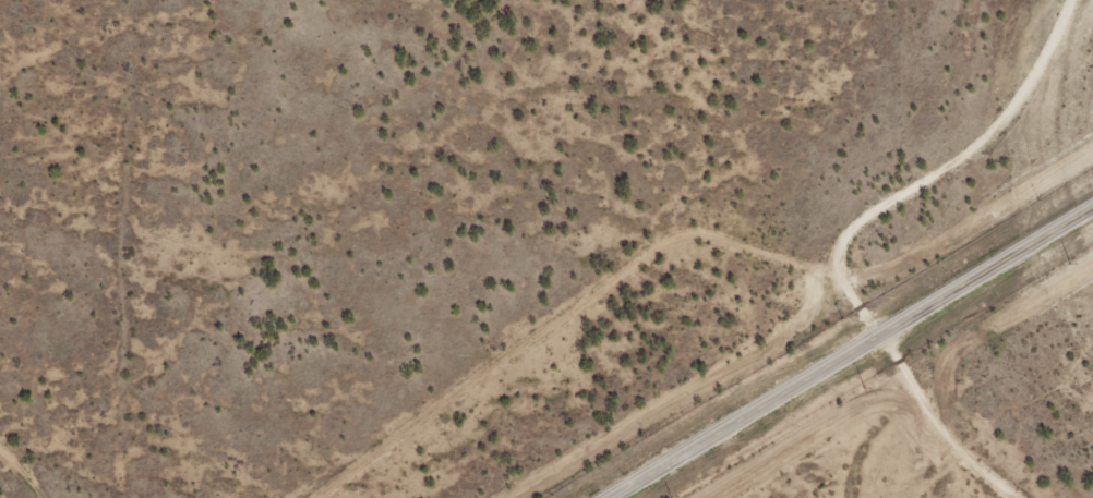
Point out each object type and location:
road: (963, 146)
power tower: (1068, 265)
road: (615, 276)
road: (852, 353)
power tower: (862, 389)
road: (938, 420)
road: (24, 471)

